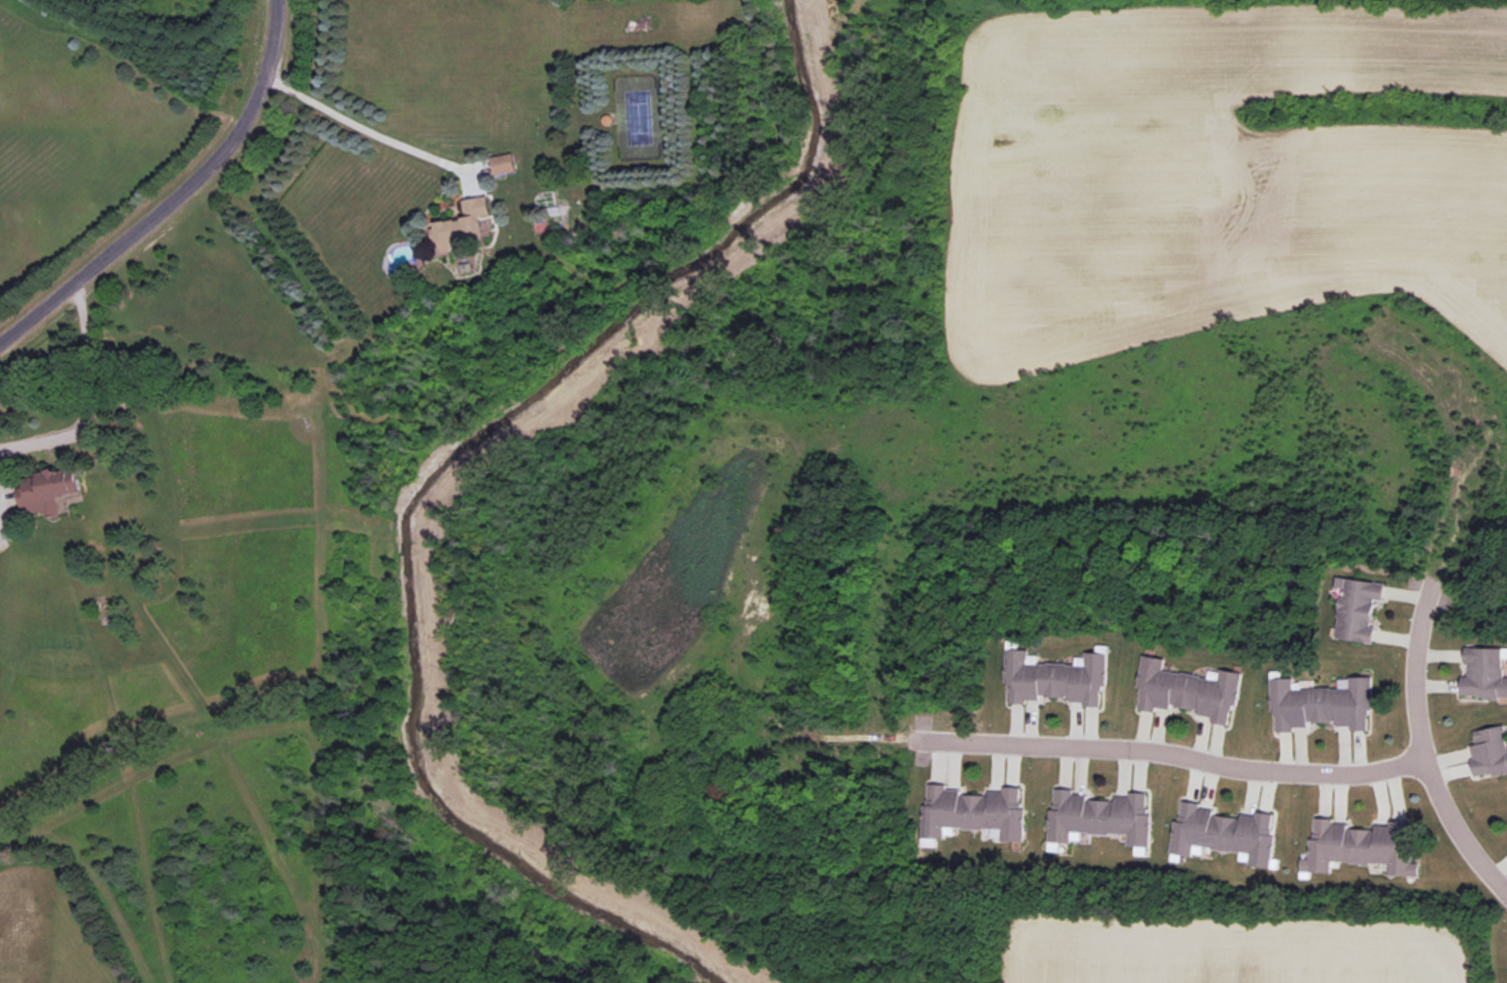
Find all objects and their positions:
road: (363, 130)
building: (502, 164)
crop: (1237, 179)
road: (174, 193)
building: (456, 228)
road: (87, 395)
building: (38, 496)
building: (1357, 608)
road: (1412, 662)
building: (1483, 674)
building: (1055, 678)
building: (1187, 690)
building: (1321, 704)
road: (1167, 751)
building: (1489, 751)
building: (973, 812)
building: (1100, 816)
road: (1455, 828)
building: (1224, 833)
building: (1360, 847)
crop: (1221, 954)

